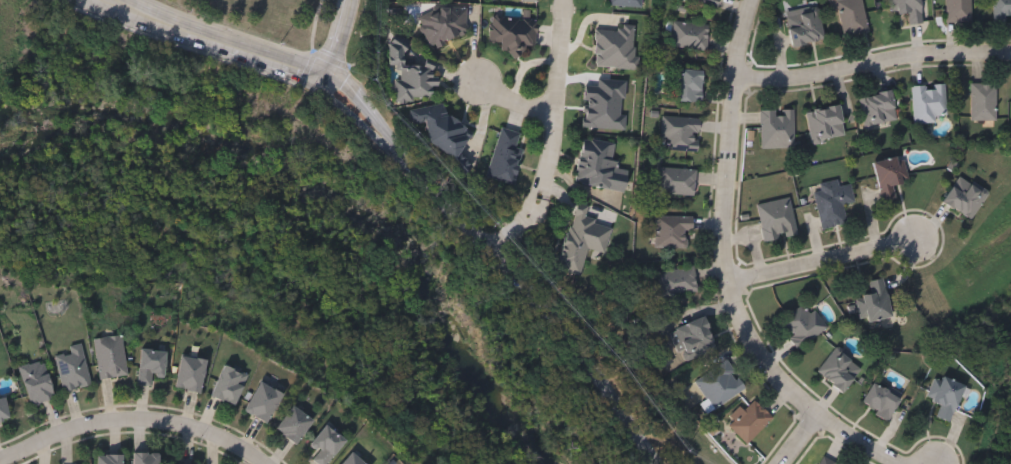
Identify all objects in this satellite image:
building: (529, 1)
road: (85, 3)
road: (93, 3)
building: (623, 3)
building: (706, 3)
building: (905, 10)
building: (957, 11)
building: (1001, 11)
building: (851, 18)
building: (444, 25)
building: (803, 27)
building: (512, 34)
road: (339, 35)
road: (233, 36)
building: (689, 36)
road: (205, 45)
road: (871, 64)
road: (323, 79)
building: (414, 84)
building: (689, 86)
road: (355, 95)
road: (516, 102)
building: (982, 102)
building: (927, 104)
building: (876, 110)
road: (359, 121)
building: (824, 124)
building: (776, 129)
building: (679, 134)
road: (553, 135)
road: (389, 139)
building: (504, 156)
building: (598, 167)
building: (888, 177)
building: (675, 182)
building: (964, 197)
building: (831, 204)
building: (775, 220)
building: (672, 233)
building: (581, 241)
road: (819, 263)
road: (724, 269)
building: (676, 283)
road: (539, 303)
building: (873, 304)
building: (801, 328)
building: (692, 340)
building: (109, 356)
building: (149, 364)
building: (72, 367)
building: (838, 371)
building: (189, 372)
building: (36, 381)
building: (228, 383)
building: (719, 386)
building: (944, 396)
building: (262, 401)
building: (882, 402)
building: (3, 408)
building: (748, 421)
road: (131, 422)
building: (293, 423)
road: (800, 438)
building: (145, 457)
building: (108, 458)
building: (352, 459)
building: (824, 461)

